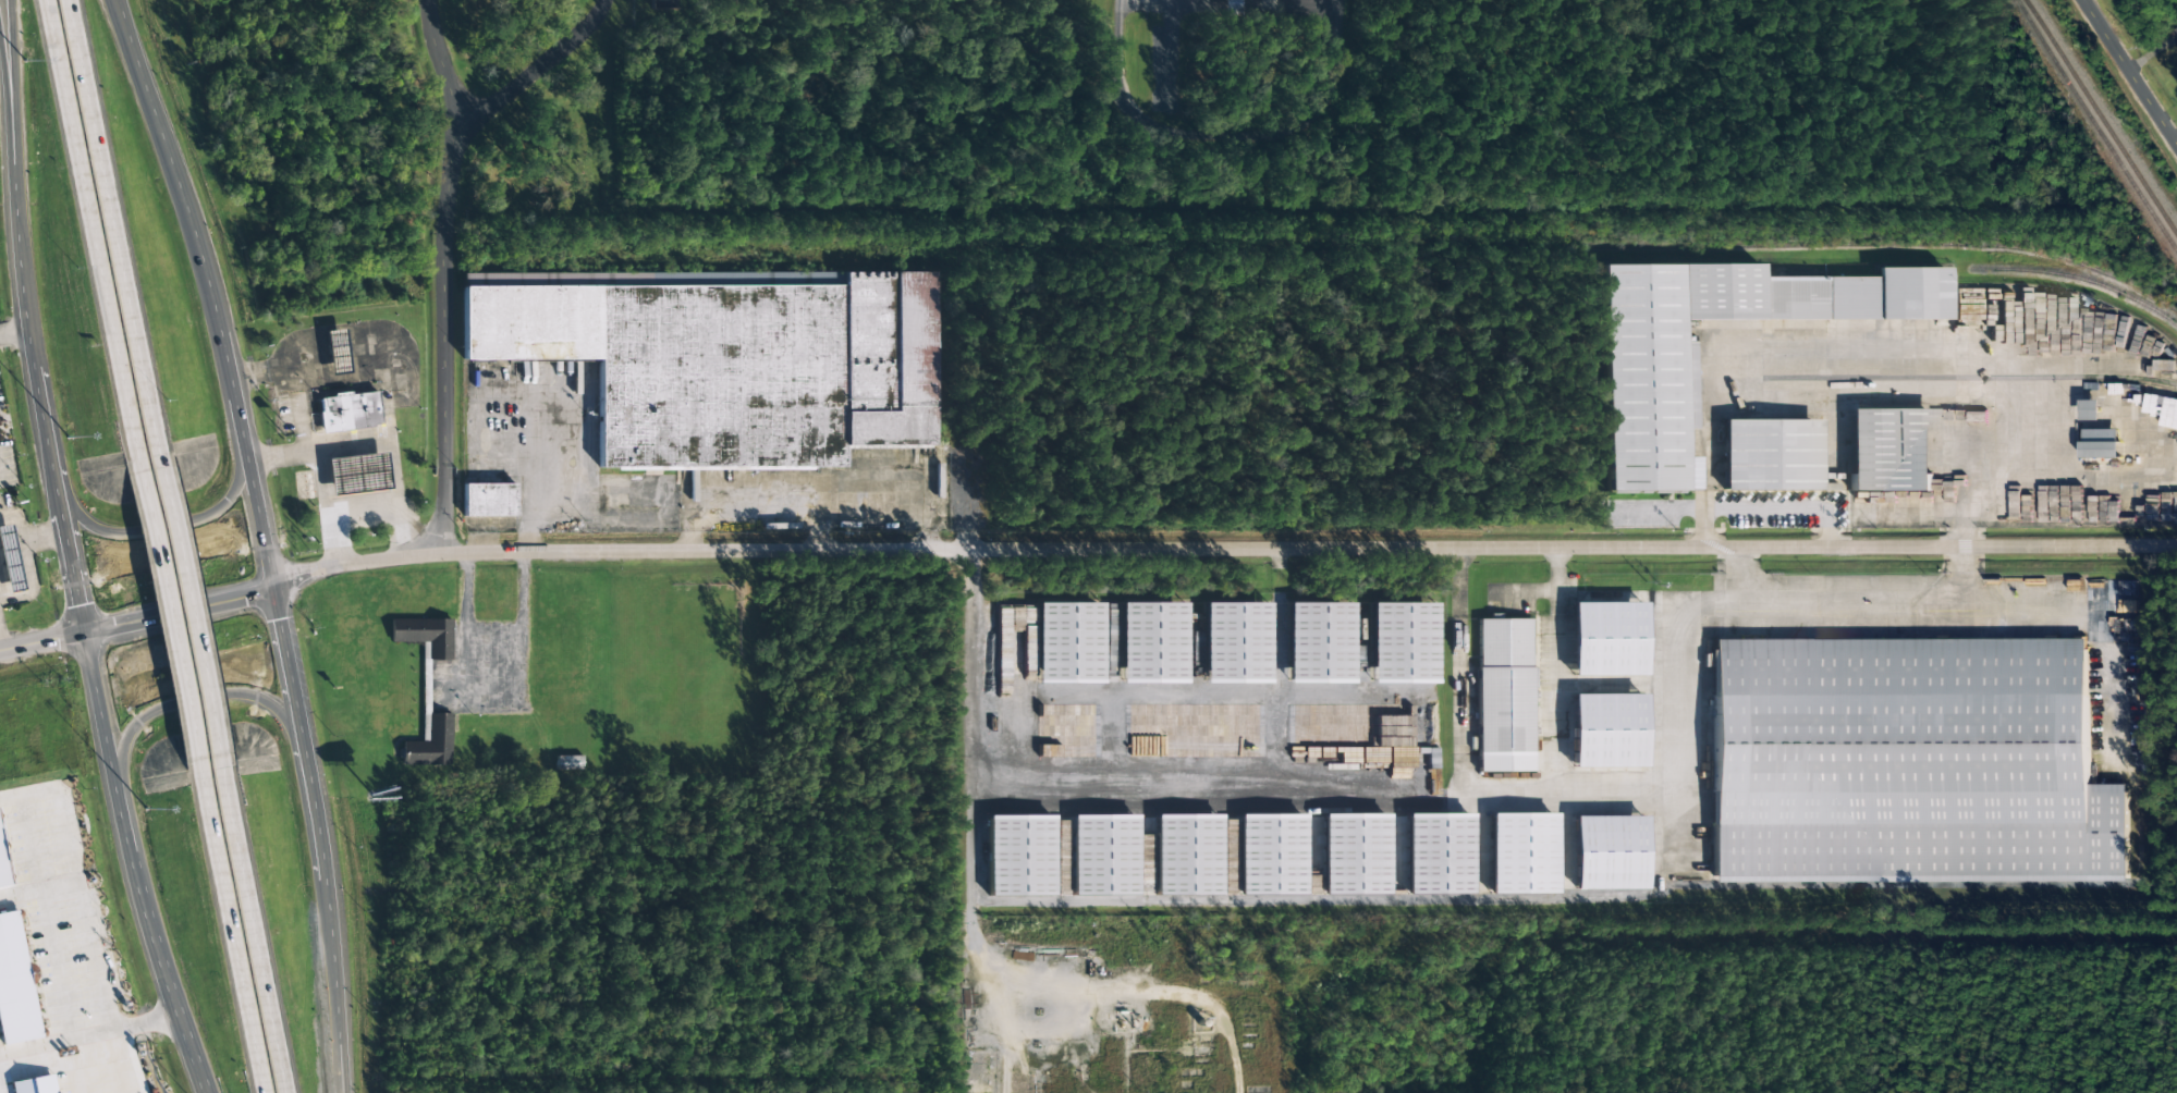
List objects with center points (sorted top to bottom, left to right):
building: (1227, 8)
building: (2175, 33)
road: (124, 42)
road: (2131, 69)
road: (541, 71)
road: (14, 108)
railway: (2099, 116)
road: (8, 134)
road: (114, 225)
road: (90, 229)
railway: (1973, 245)
road: (447, 277)
road: (209, 292)
road: (13, 332)
building: (352, 344)
gas station: (352, 344)
road: (1962, 348)
building: (735, 353)
building: (1650, 385)
building: (366, 405)
building: (2090, 409)
road: (44, 426)
building: (2099, 444)
building: (1891, 450)
building: (1770, 455)
building: (372, 467)
gas station: (372, 467)
building: (488, 500)
building: (0, 512)
road: (162, 528)
road: (1222, 550)
building: (25, 551)
gas station: (25, 551)
building: (10, 560)
road: (191, 605)
road: (180, 612)
road: (168, 615)
building: (445, 628)
building: (425, 635)
building: (1606, 638)
road: (44, 641)
building: (1068, 642)
building: (1152, 642)
building: (1320, 643)
building: (1403, 643)
building: (1504, 695)
road: (187, 702)
building: (1606, 730)
building: (451, 738)
building: (431, 744)
building: (1907, 761)
building: (570, 762)
road: (318, 840)
building: (1607, 852)
building: (1396, 853)
building: (1521, 853)
building: (1103, 855)
building: (1187, 855)
building: (1271, 855)
building: (1020, 856)
road: (132, 865)
building: (2, 869)
road: (38, 889)
road: (85, 913)
road: (254, 926)
road: (231, 932)
building: (14, 985)
road: (333, 1029)
road: (88, 1034)
road: (197, 1061)
building: (35, 1085)
road: (0, 1091)

